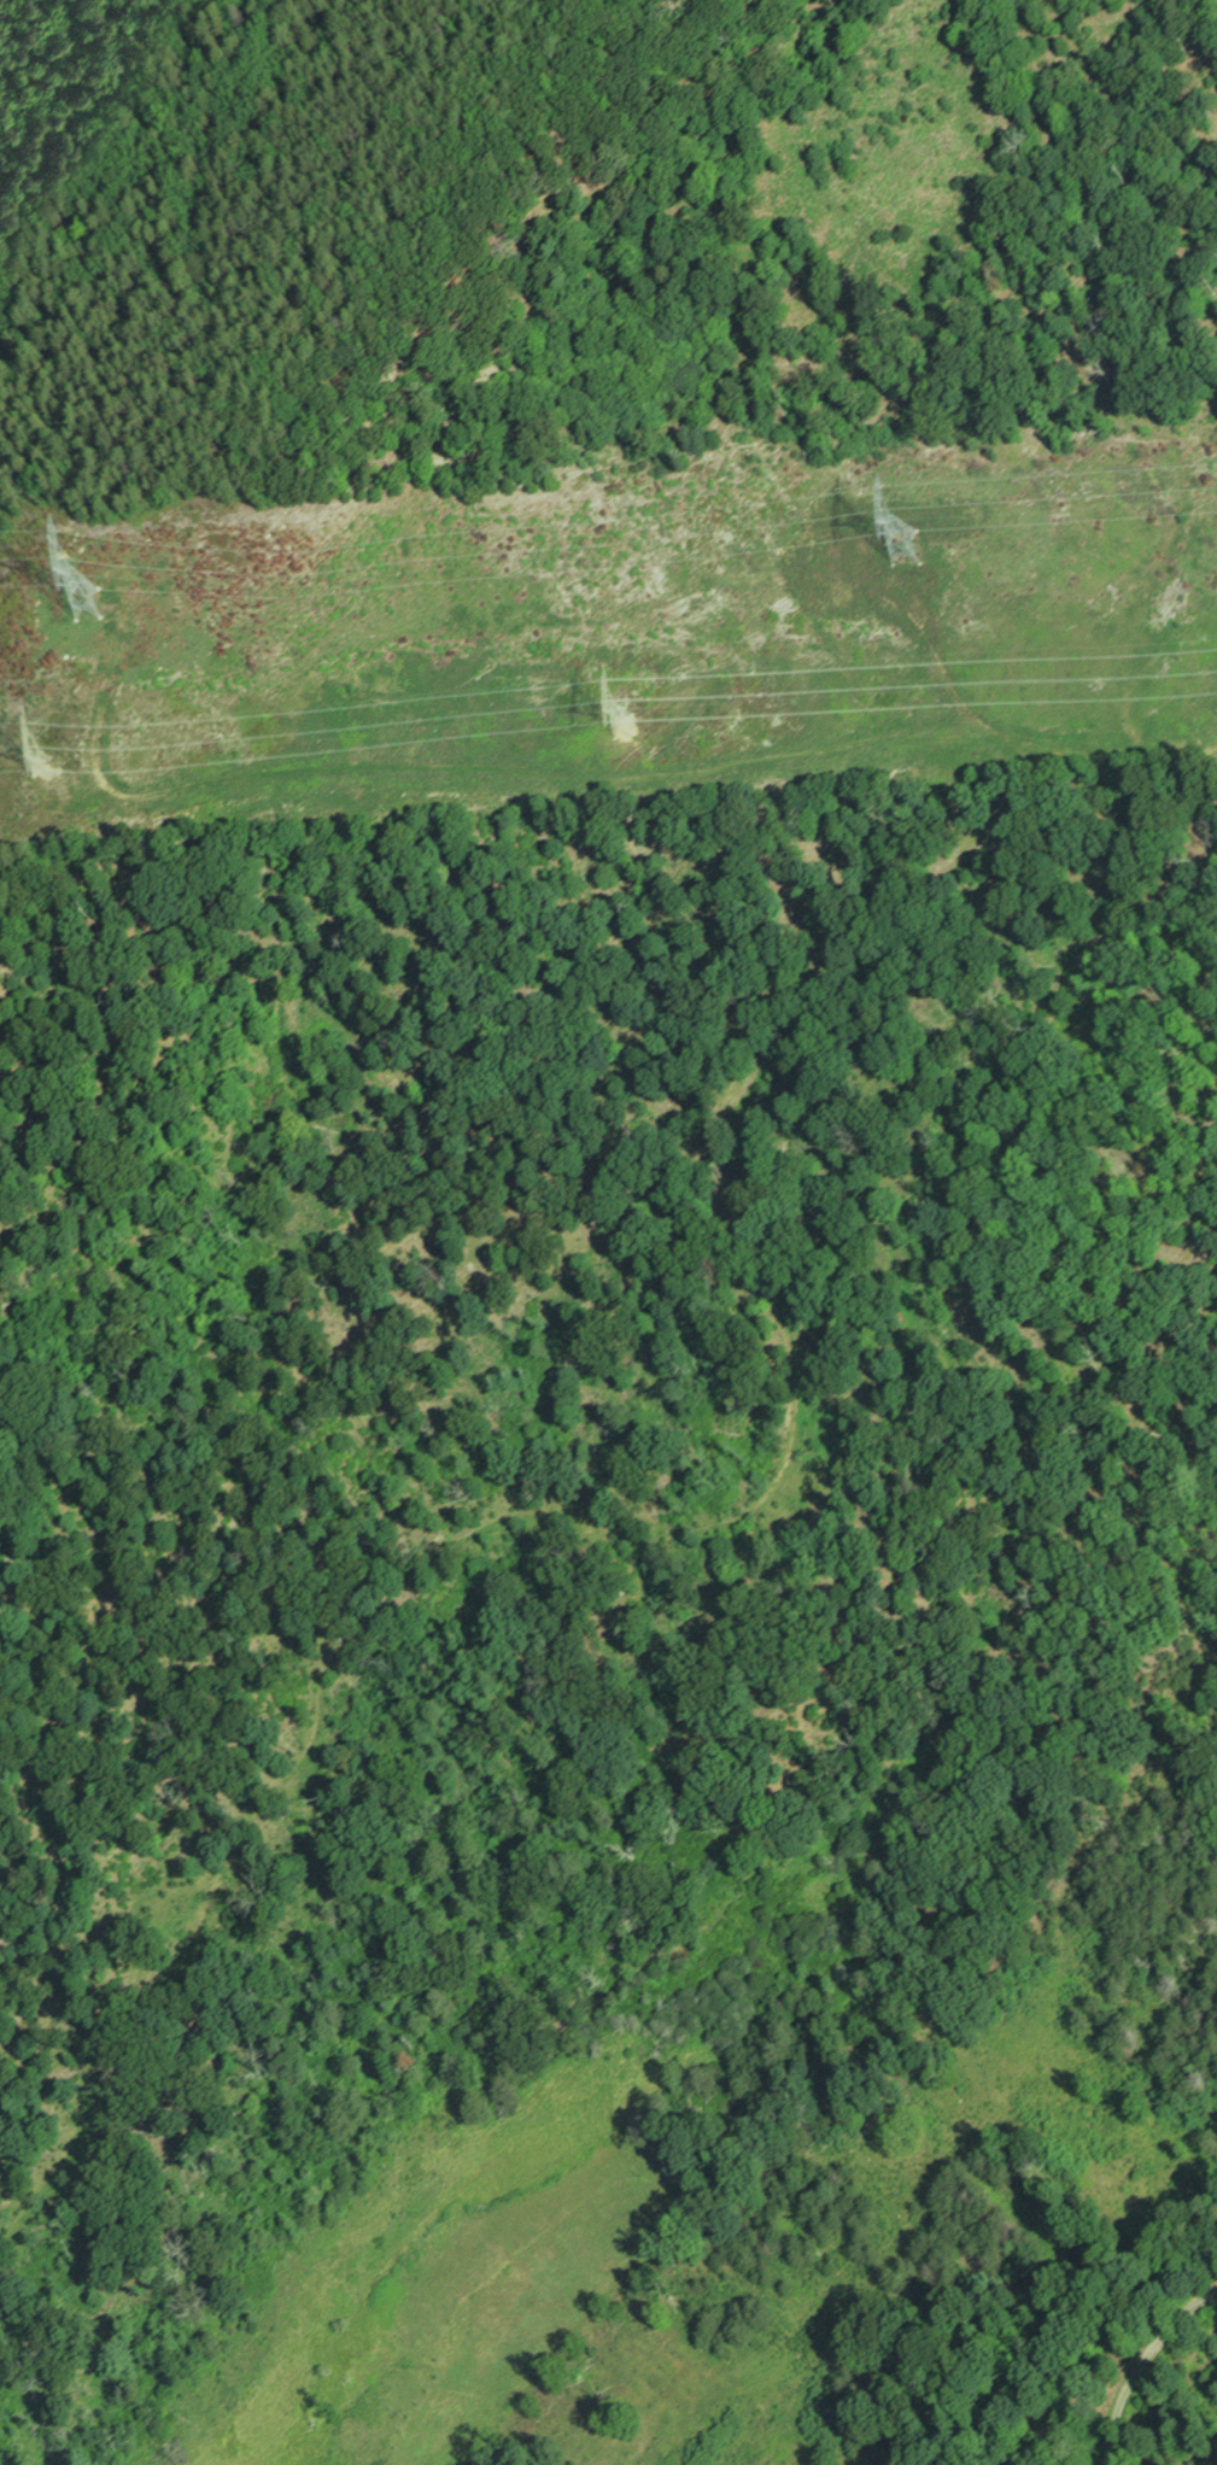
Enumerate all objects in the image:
power tower: (905, 544)
power tower: (83, 599)
power tower: (627, 726)
power tower: (40, 765)
road: (1139, 2361)

